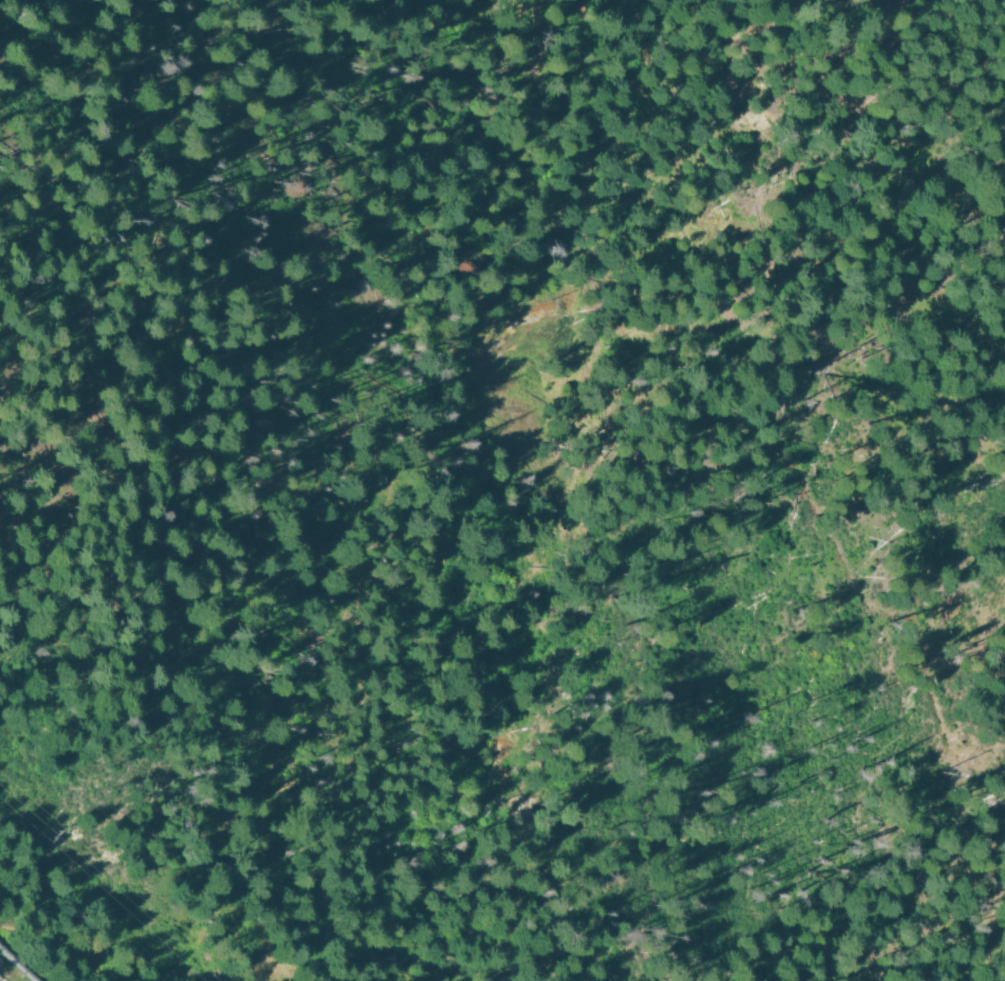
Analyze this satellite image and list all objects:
road: (67, 945)

